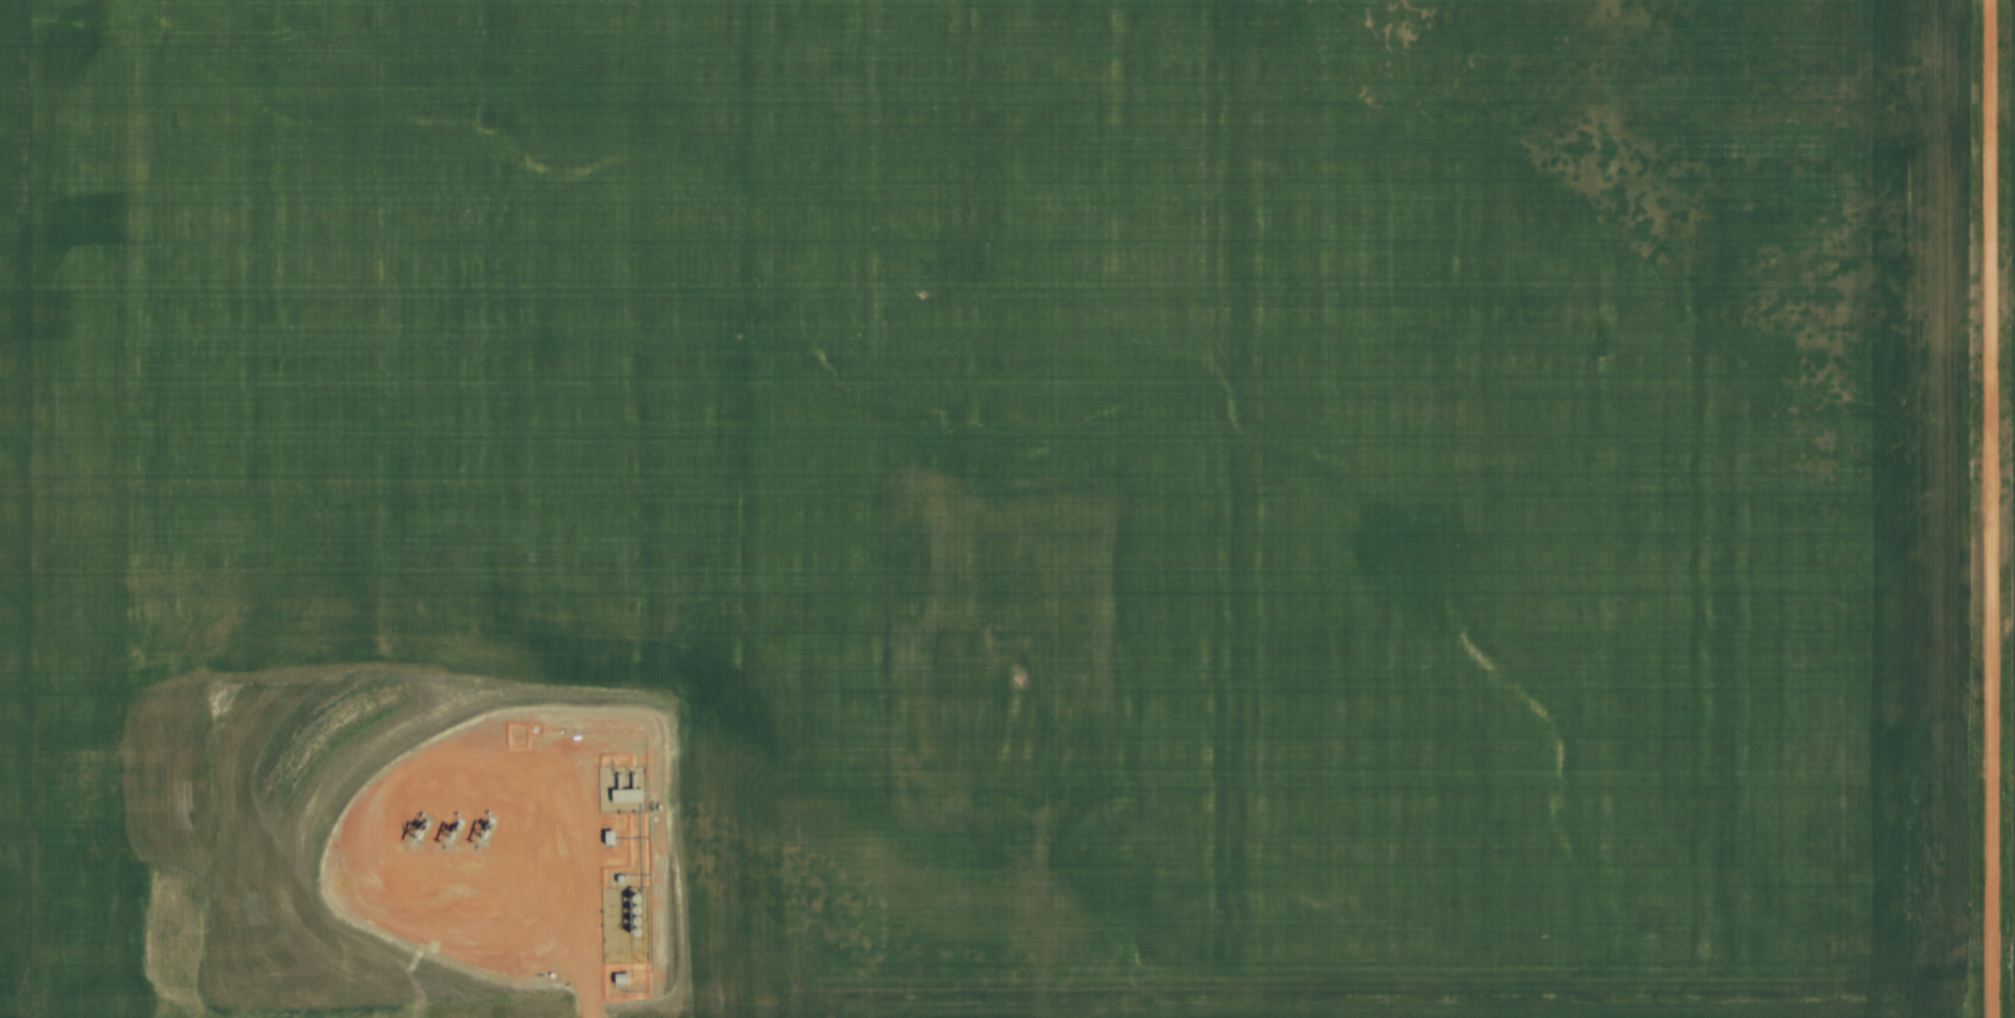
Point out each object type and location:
road: (1996, 508)

